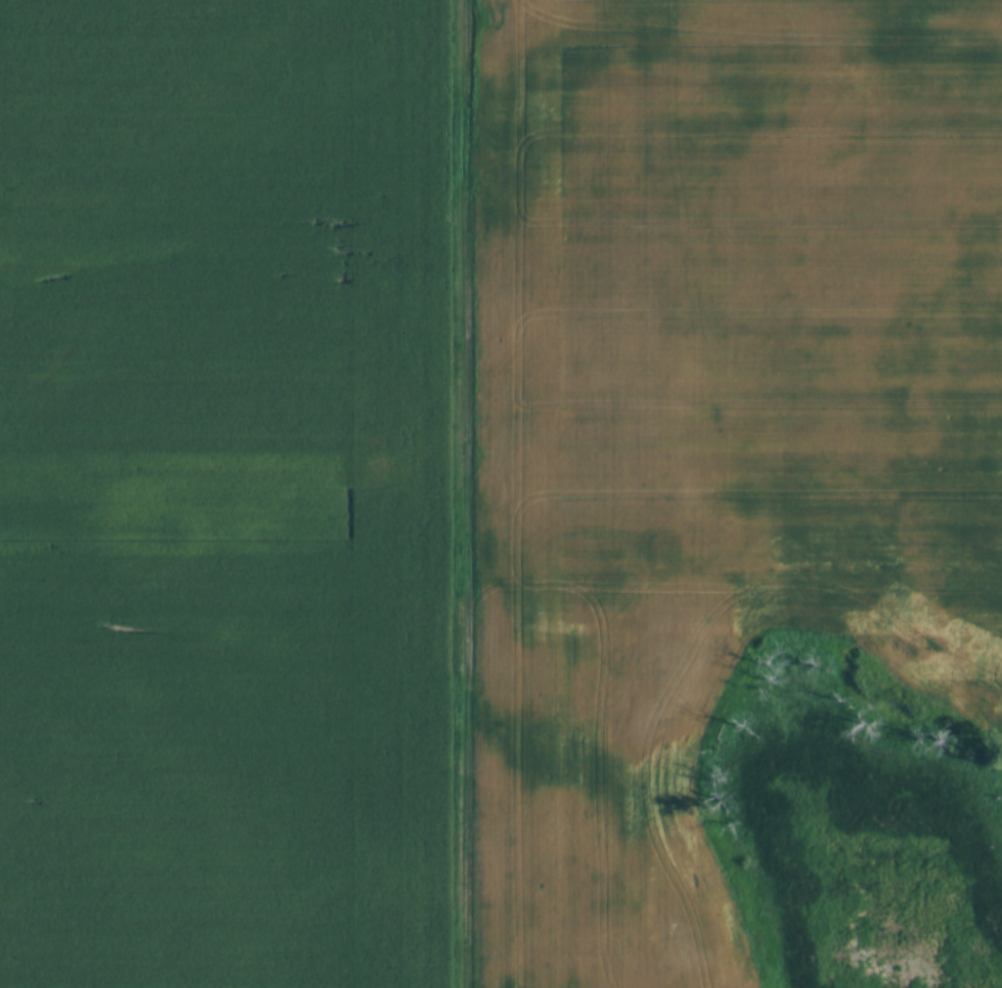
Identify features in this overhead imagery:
road: (475, 493)

